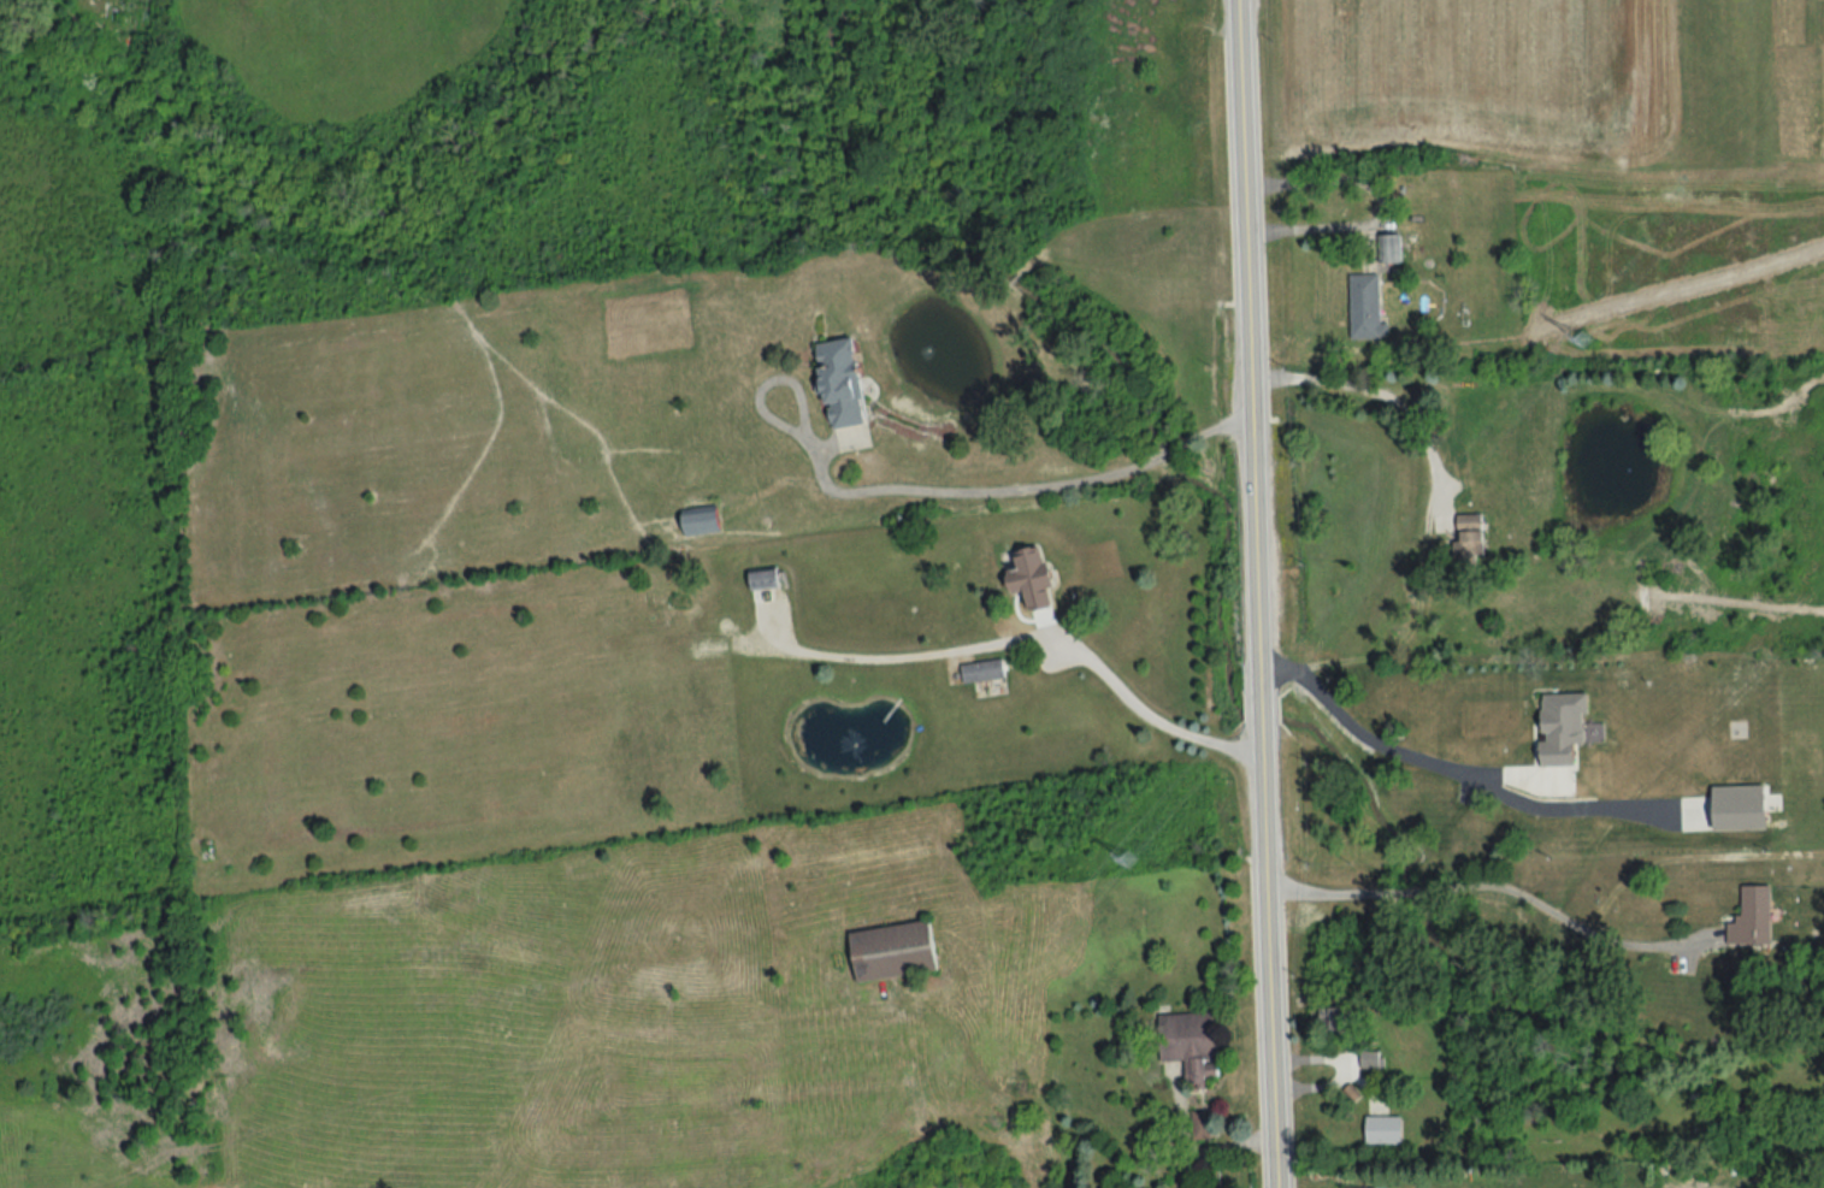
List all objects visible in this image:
crop: (1477, 72)
road: (1308, 229)
building: (1388, 247)
building: (1364, 306)
power tower: (1576, 342)
building: (839, 382)
road: (1373, 392)
road: (1015, 487)
building: (698, 519)
building: (1468, 536)
building: (1031, 577)
building: (762, 579)
road: (1253, 593)
road: (893, 658)
building: (981, 669)
road: (1144, 704)
building: (1564, 726)
road: (1363, 732)
building: (1737, 806)
power tower: (1126, 862)
road: (1488, 882)
building: (1749, 917)
building: (891, 950)
building: (1338, 1017)
building: (1188, 1044)
building: (1370, 1057)
building: (1198, 1123)
building: (1382, 1128)
building: (1358, 1187)

